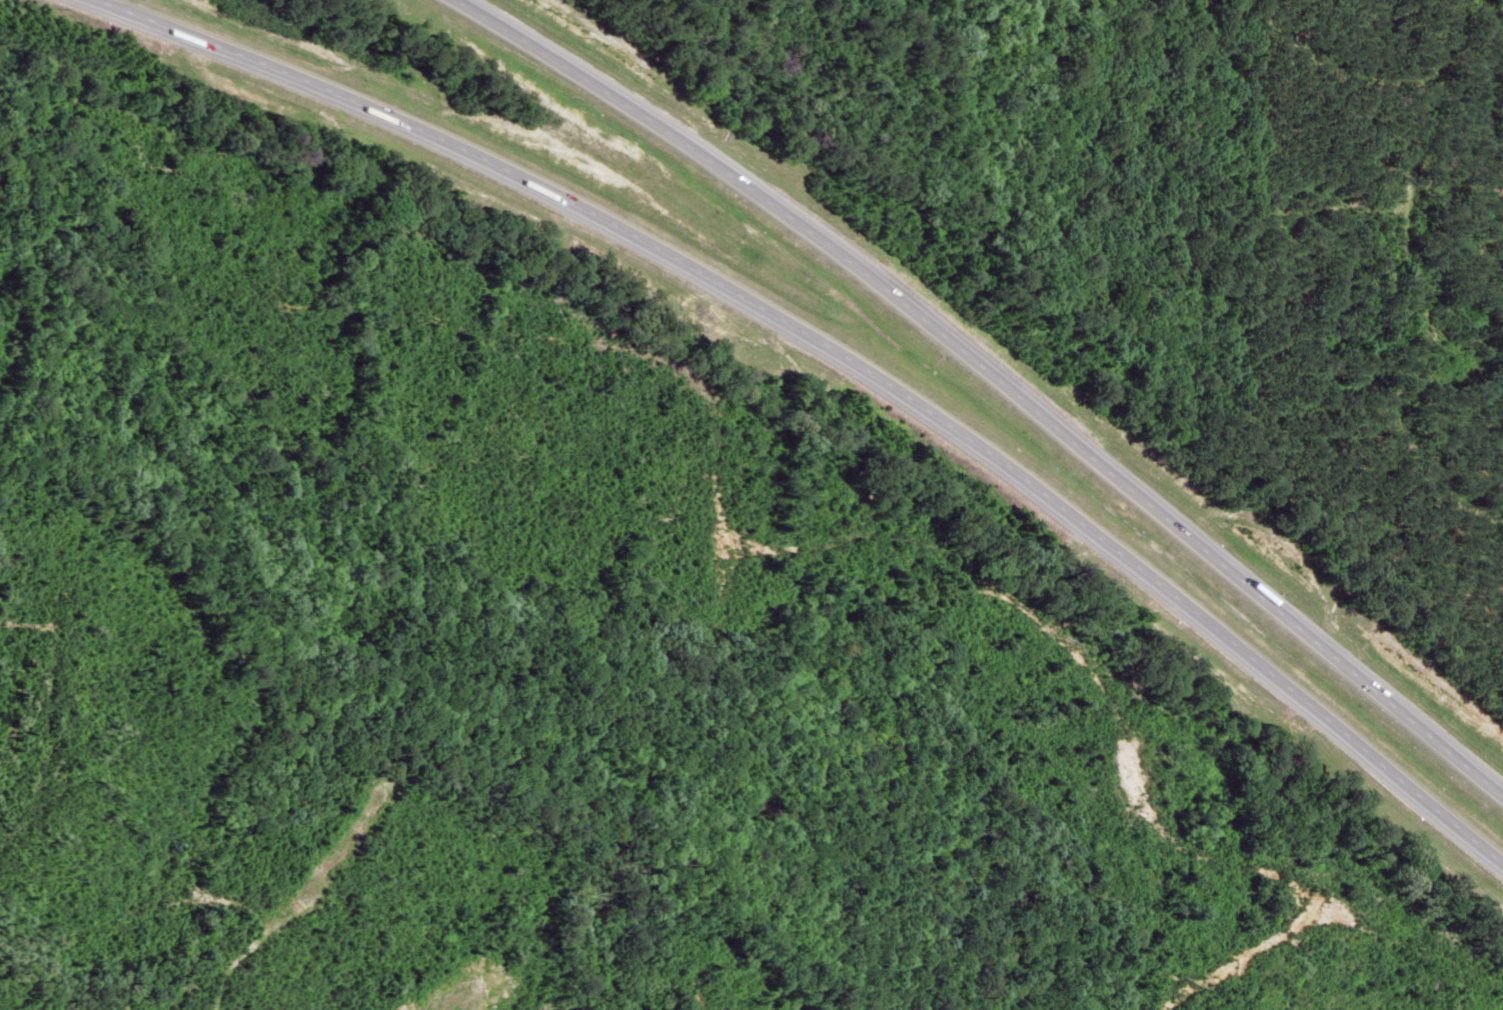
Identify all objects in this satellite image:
road: (842, 356)
road: (989, 375)

